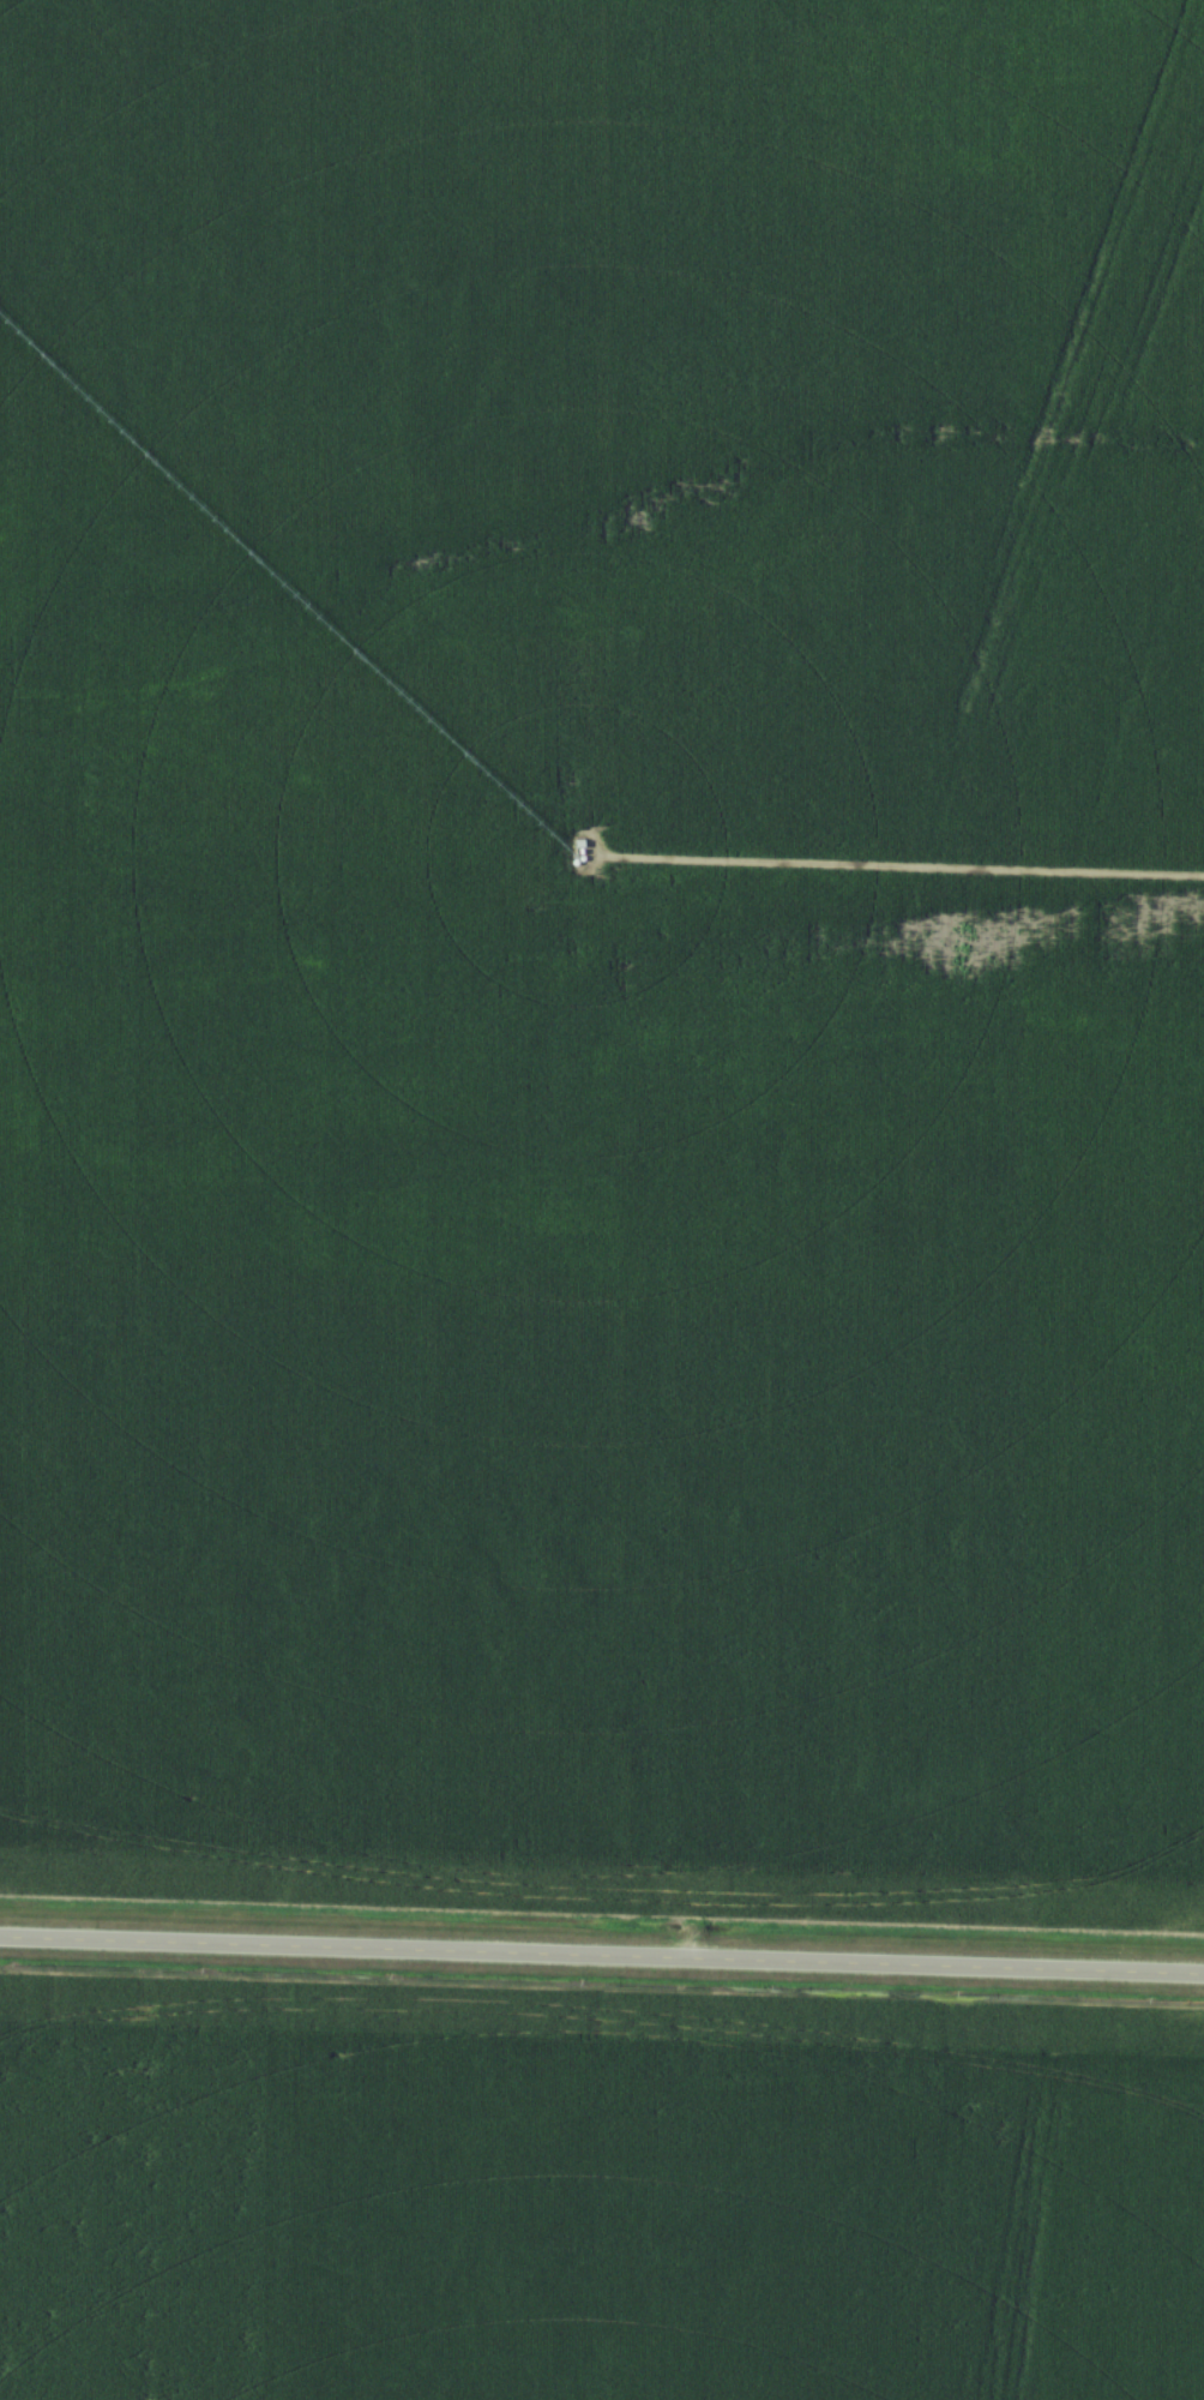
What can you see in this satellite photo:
road: (602, 1957)

